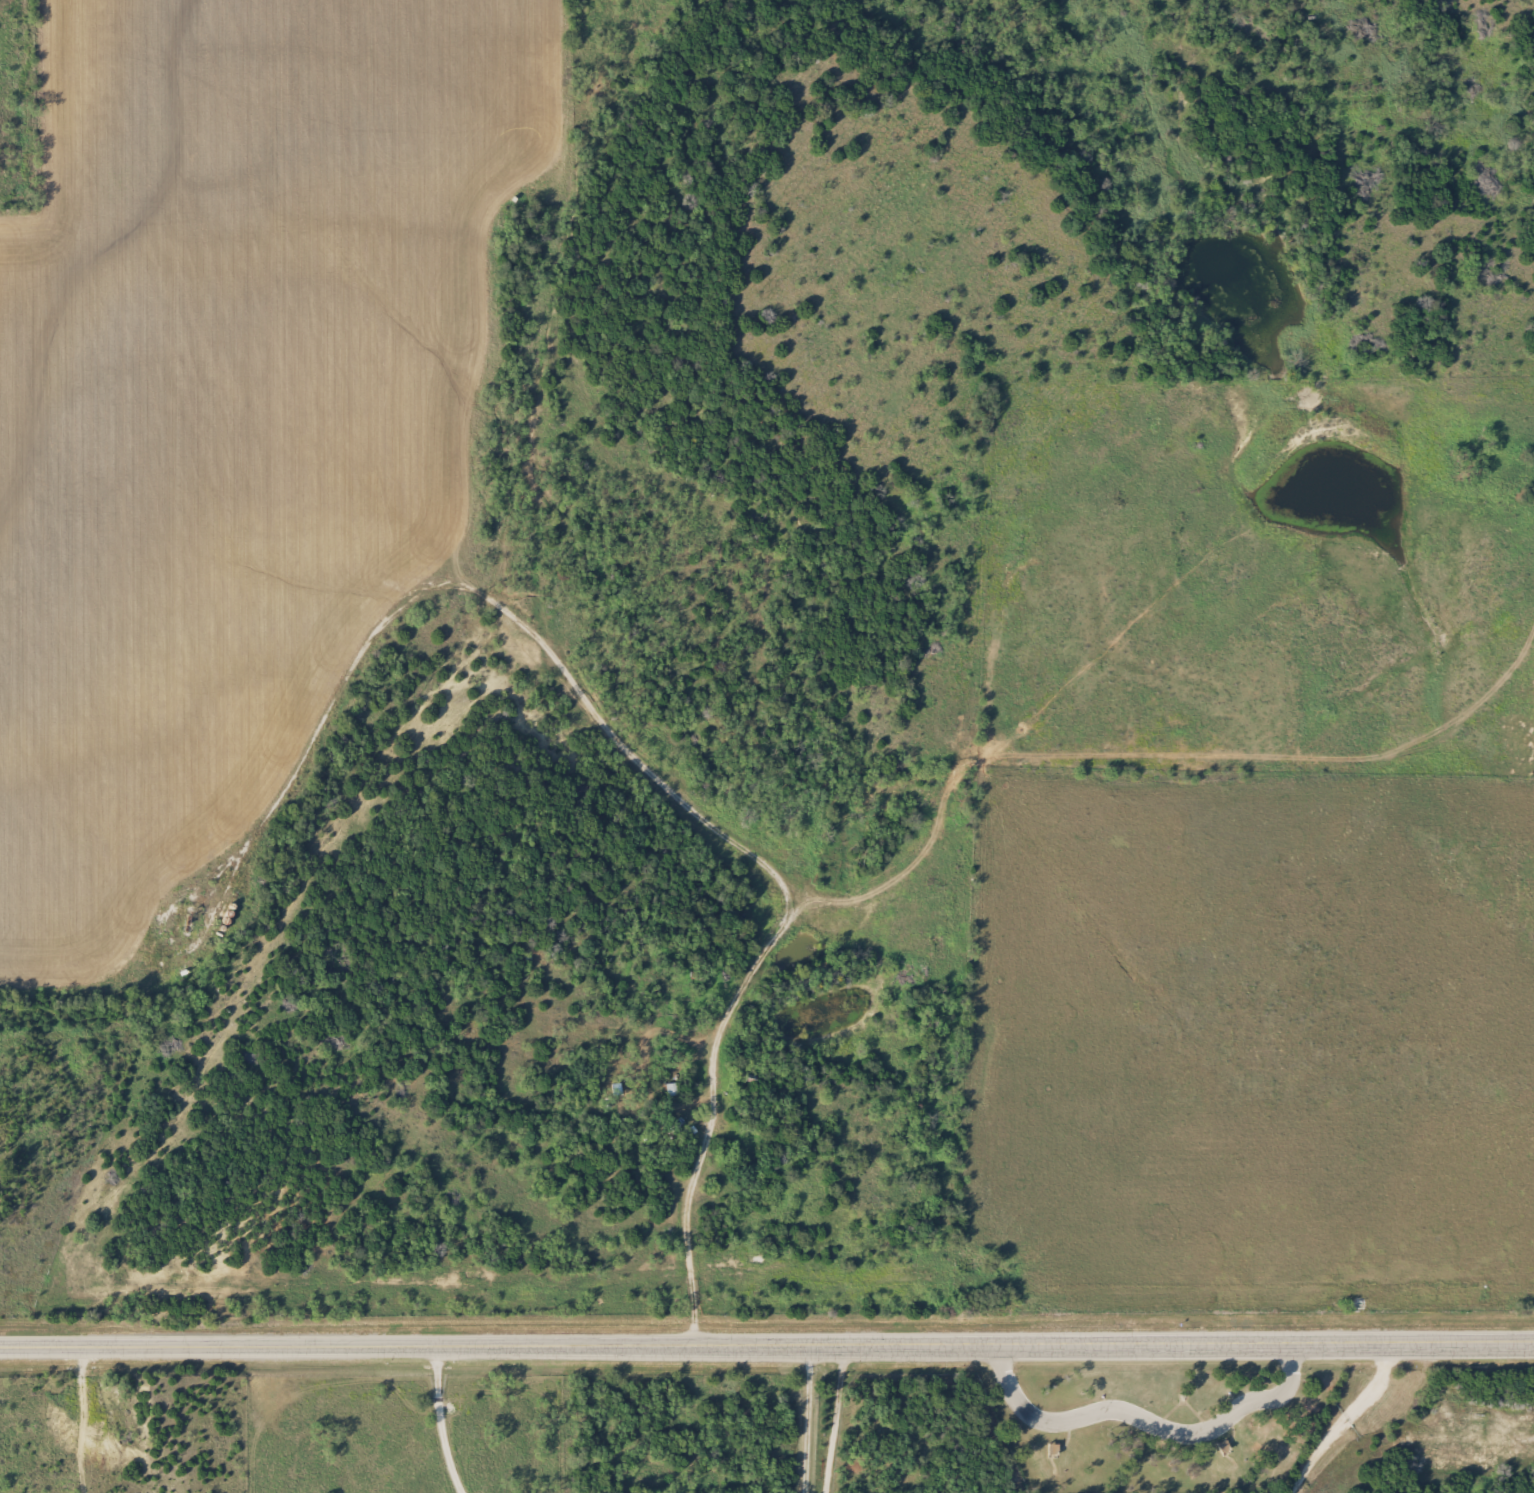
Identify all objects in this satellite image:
road: (685, 1230)
road: (767, 1342)
park: (1146, 1377)
road: (1144, 1411)
road: (1361, 1422)
park: (1179, 1440)

